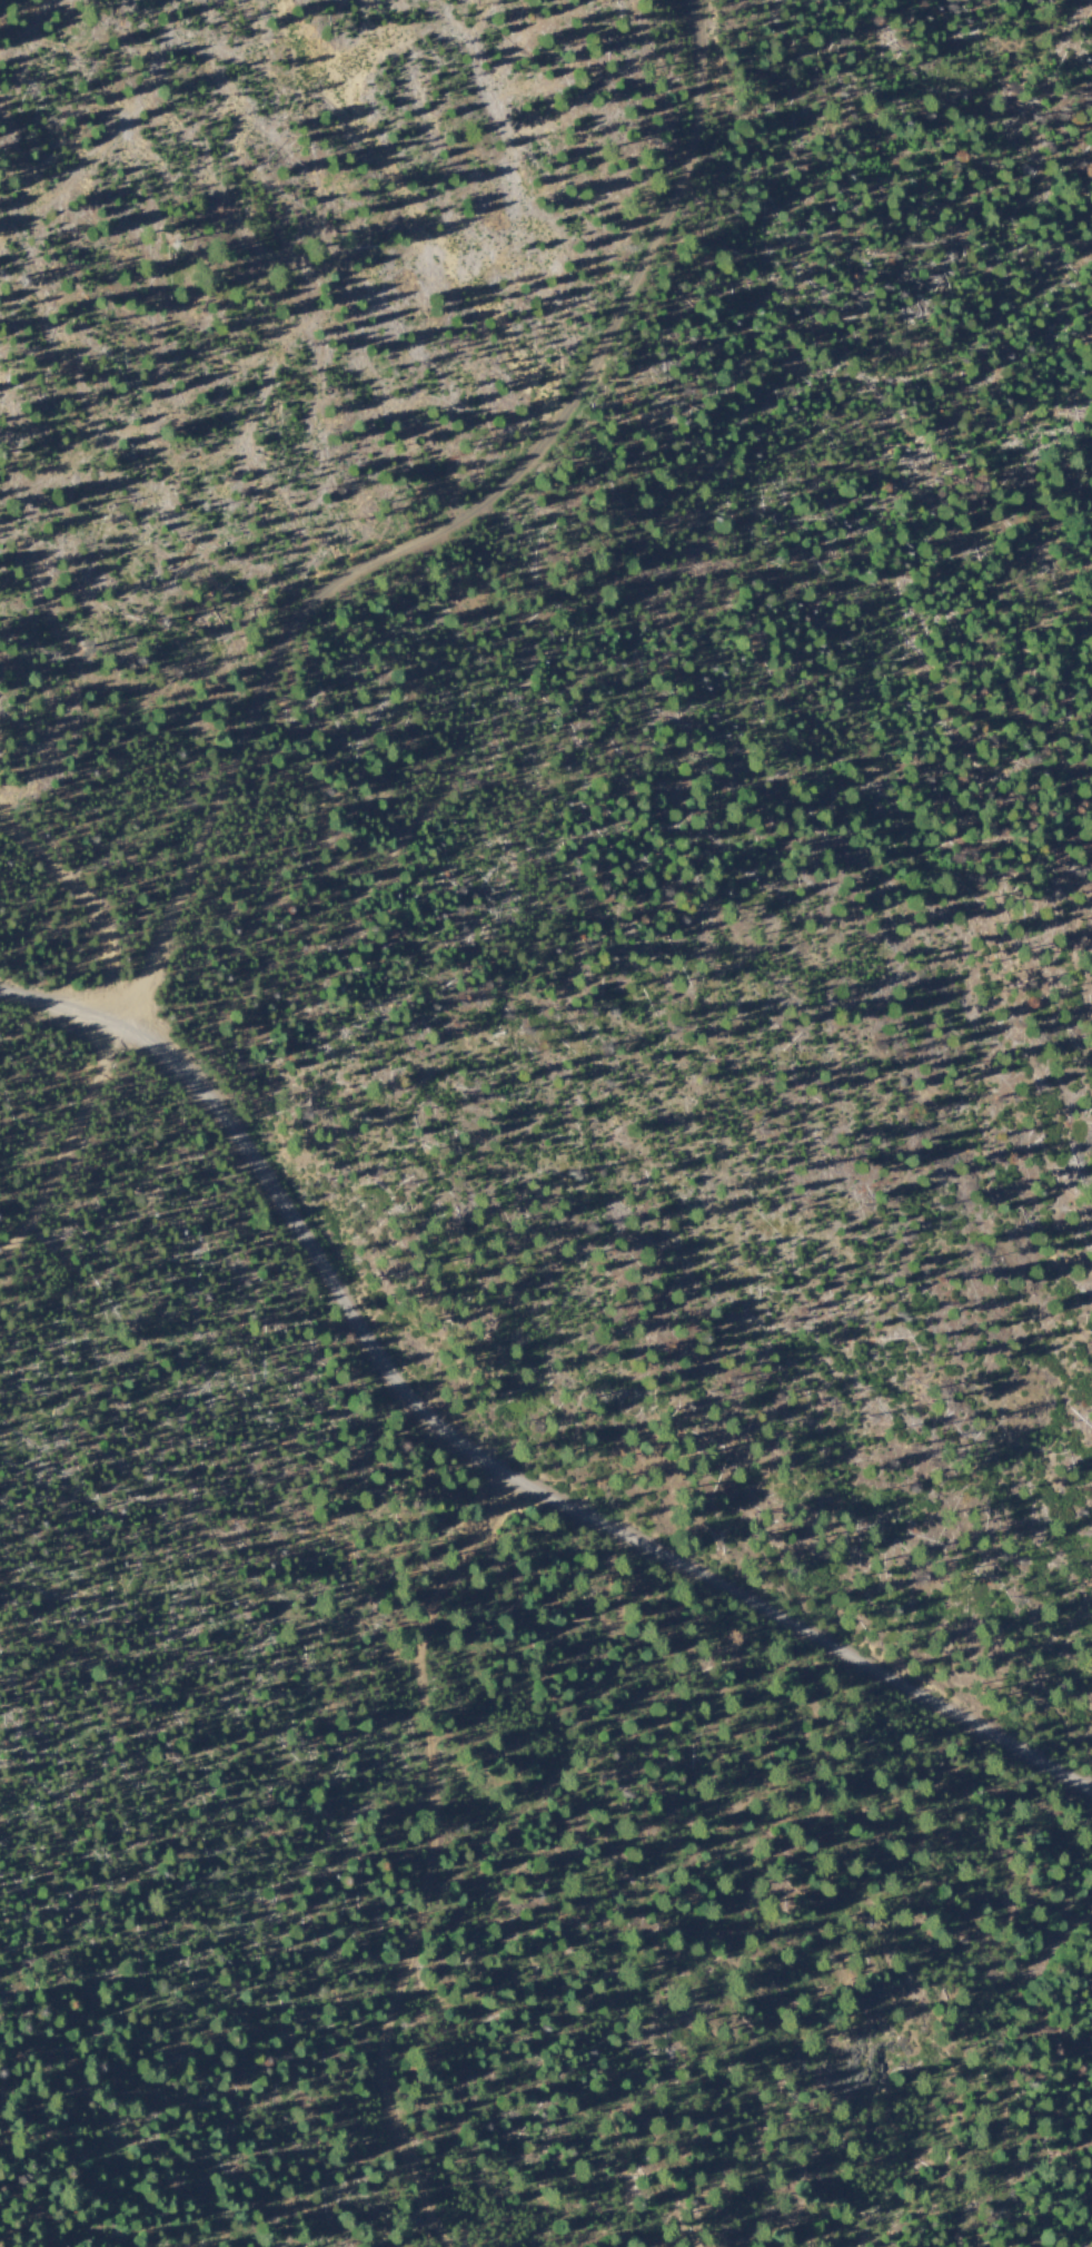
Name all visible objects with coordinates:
road: (436, 529)
road: (67, 1144)
road: (478, 1462)
road: (423, 1859)

